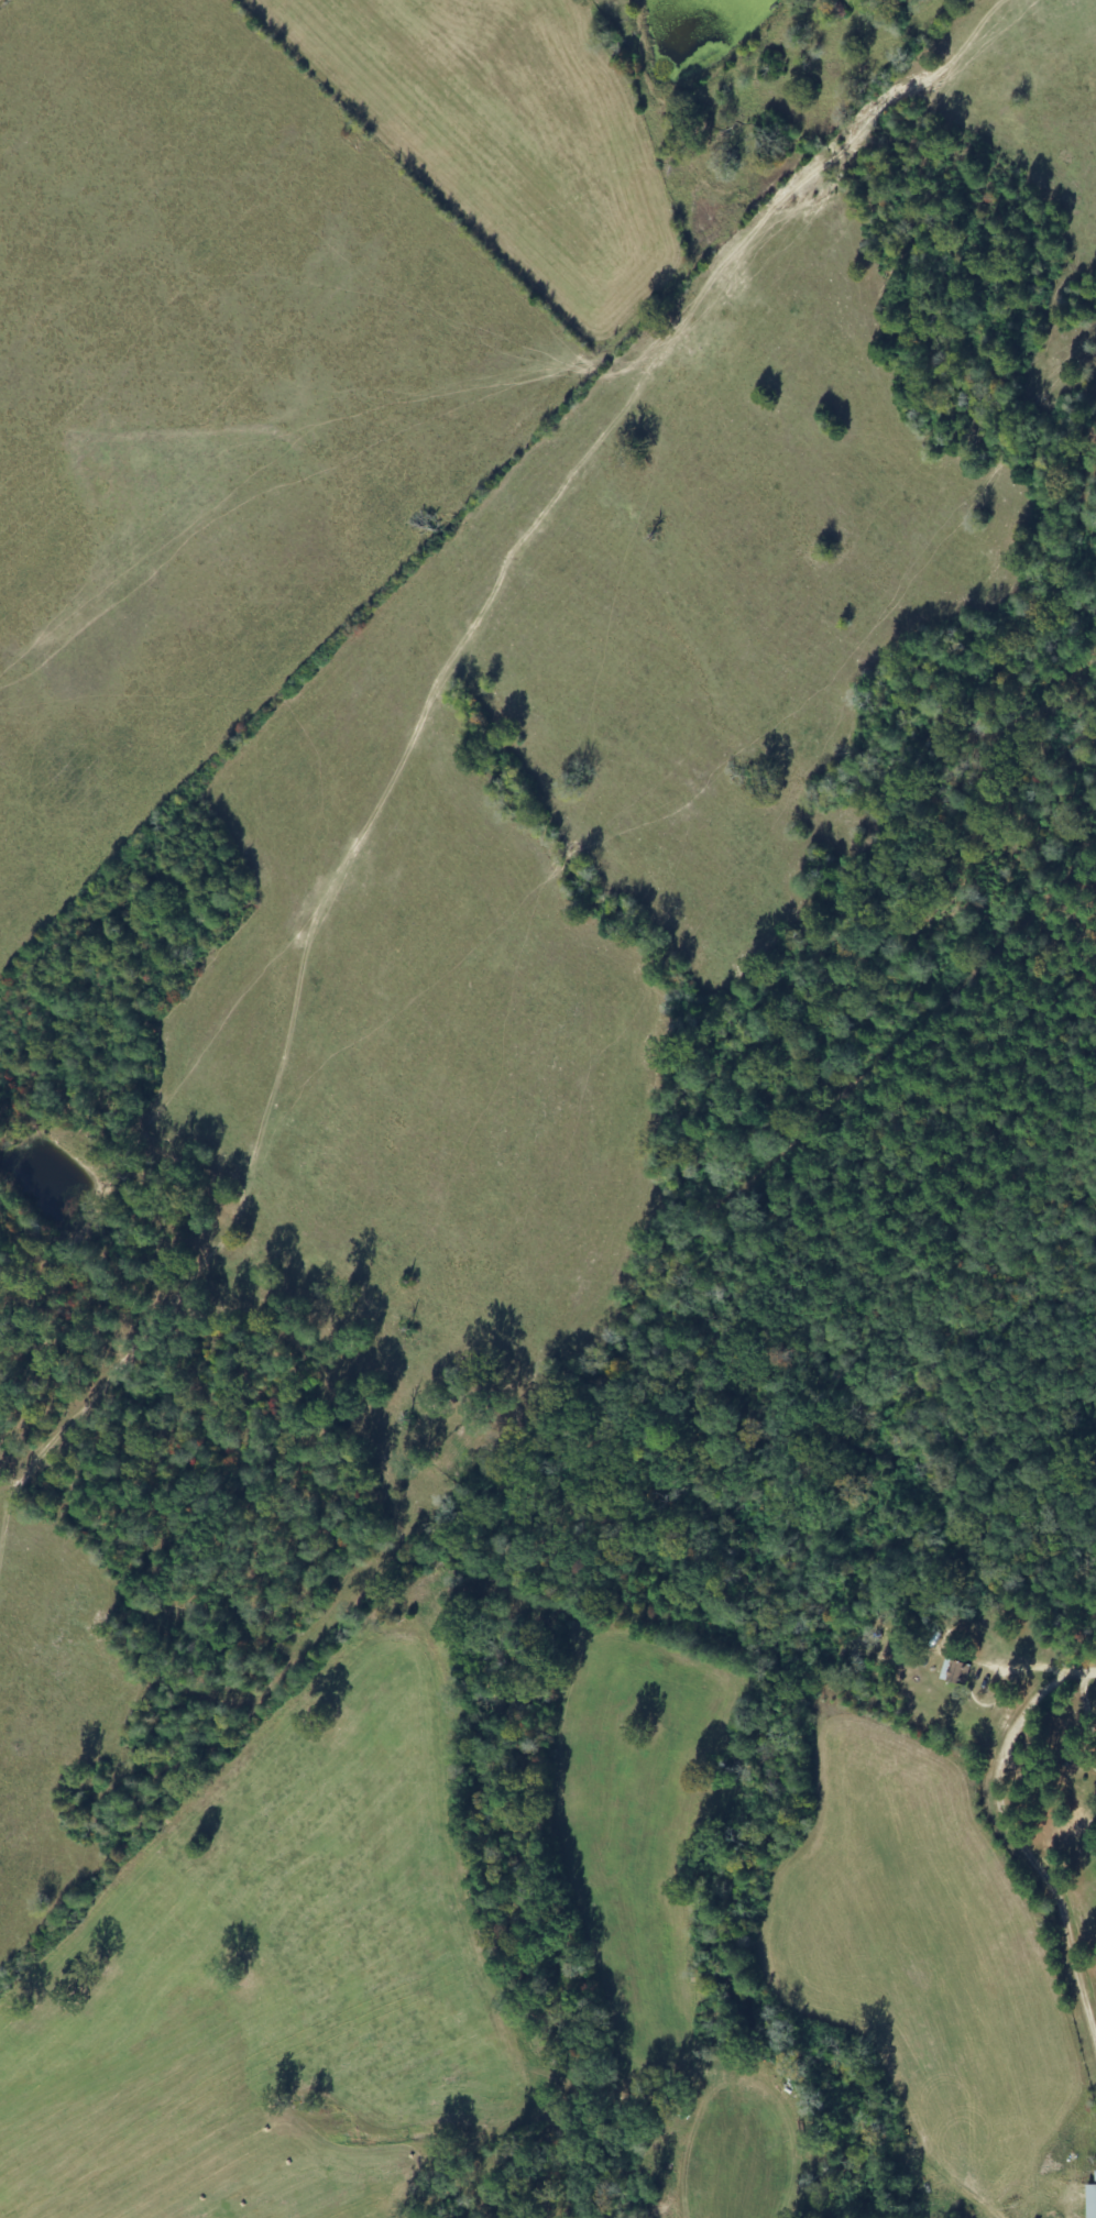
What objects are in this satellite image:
building: (1095, 1798)
road: (1006, 1877)
building: (1090, 2201)

